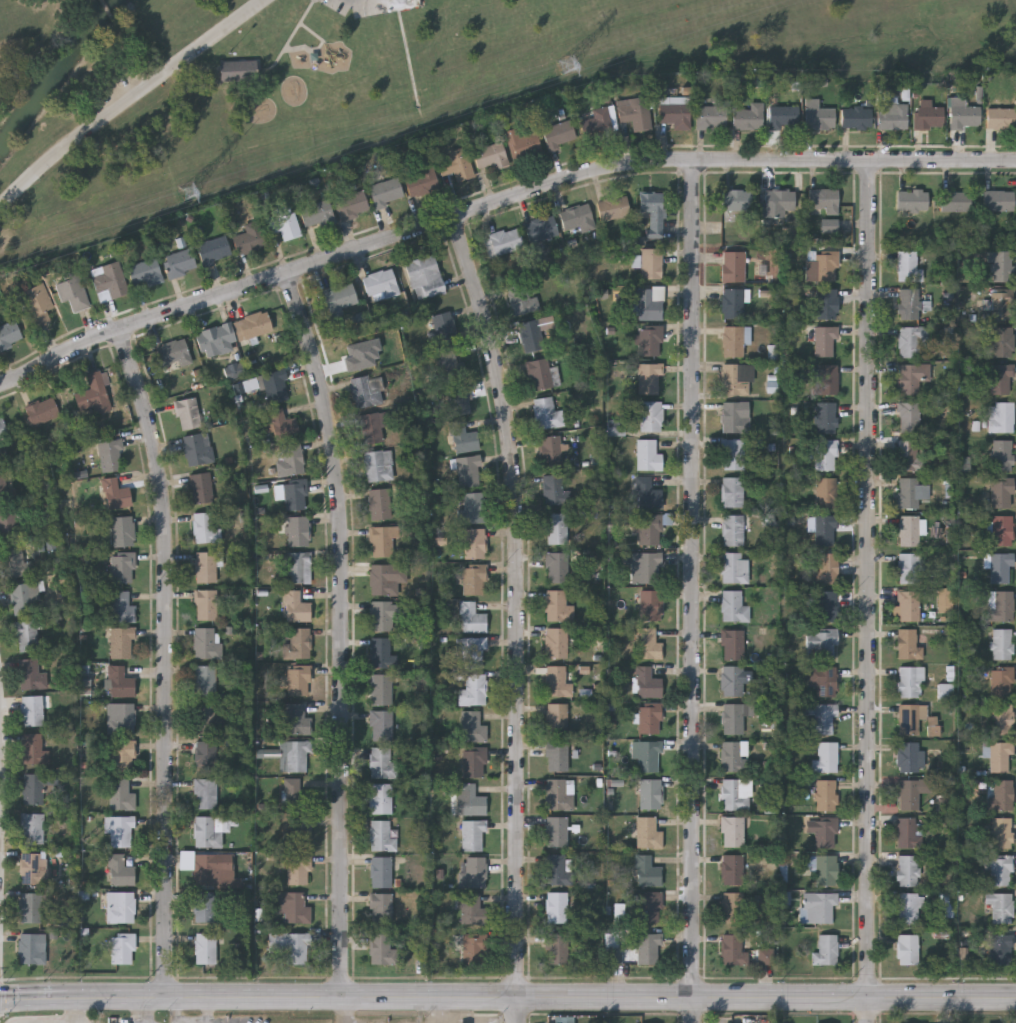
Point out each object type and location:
road: (358, 2)
parking lot: (371, 6)
road: (109, 14)
power tower: (570, 63)
building: (235, 73)
park: (234, 81)
park: (365, 81)
road: (129, 97)
building: (635, 112)
building: (674, 114)
building: (818, 115)
building: (964, 115)
building: (748, 116)
building: (781, 116)
building: (893, 116)
building: (711, 117)
building: (856, 117)
building: (929, 117)
building: (1001, 119)
building: (599, 122)
building: (558, 134)
building: (521, 144)
building: (490, 156)
building: (457, 169)
building: (421, 181)
power tower: (193, 192)
building: (386, 192)
building: (737, 200)
building: (779, 200)
building: (913, 200)
building: (955, 200)
building: (999, 200)
building: (823, 201)
building: (351, 204)
road: (495, 206)
building: (614, 208)
building: (653, 211)
building: (317, 214)
building: (578, 218)
building: (283, 225)
building: (542, 228)
building: (249, 238)
building: (505, 241)
building: (213, 250)
building: (179, 263)
building: (651, 264)
building: (822, 265)
building: (908, 265)
building: (1001, 265)
building: (734, 266)
building: (145, 274)
building: (426, 277)
building: (108, 281)
building: (381, 284)
building: (72, 291)
building: (339, 298)
building: (522, 299)
building: (649, 303)
building: (732, 303)
building: (827, 304)
building: (908, 304)
building: (37, 305)
building: (1003, 305)
building: (253, 325)
building: (443, 329)
building: (9, 334)
building: (530, 336)
building: (216, 340)
building: (650, 341)
building: (825, 341)
building: (1003, 341)
building: (734, 342)
building: (911, 342)
building: (173, 352)
building: (357, 354)
building: (450, 366)
building: (541, 373)
building: (648, 378)
building: (738, 379)
building: (828, 379)
building: (910, 379)
building: (1002, 379)
building: (274, 387)
building: (93, 391)
building: (366, 391)
building: (460, 400)
building: (43, 411)
building: (188, 413)
building: (547, 413)
building: (648, 414)
building: (734, 417)
building: (826, 417)
building: (909, 417)
building: (1001, 417)
building: (281, 424)
building: (372, 427)
building: (3, 429)
building: (463, 438)
building: (197, 449)
building: (551, 451)
building: (110, 454)
building: (734, 454)
building: (648, 455)
building: (826, 455)
building: (910, 455)
building: (1001, 455)
building: (290, 459)
building: (378, 465)
building: (468, 471)
building: (202, 488)
building: (555, 490)
building: (732, 492)
building: (827, 492)
building: (912, 492)
building: (1002, 492)
building: (7, 493)
building: (647, 493)
building: (292, 494)
building: (115, 495)
building: (380, 504)
building: (472, 508)
building: (8, 523)
building: (206, 527)
building: (557, 528)
building: (651, 529)
building: (733, 529)
building: (825, 530)
building: (1003, 530)
building: (122, 531)
building: (298, 531)
building: (909, 531)
building: (383, 541)
building: (474, 543)
building: (16, 562)
building: (206, 566)
building: (122, 567)
building: (299, 567)
building: (557, 567)
building: (999, 567)
building: (650, 568)
building: (826, 568)
building: (911, 568)
building: (387, 578)
building: (474, 579)
road: (694, 591)
road: (870, 592)
building: (23, 598)
building: (205, 604)
building: (651, 605)
building: (909, 605)
building: (1001, 605)
building: (120, 606)
building: (558, 606)
building: (734, 606)
building: (825, 606)
building: (296, 607)
building: (383, 614)
road: (523, 617)
building: (472, 618)
road: (343, 627)
building: (27, 635)
building: (121, 642)
building: (207, 642)
building: (556, 642)
building: (298, 643)
building: (648, 643)
building: (822, 643)
building: (908, 644)
building: (1001, 644)
building: (733, 645)
building: (381, 652)
building: (471, 652)
road: (164, 660)
building: (29, 673)
building: (205, 680)
building: (298, 680)
building: (732, 680)
building: (824, 680)
building: (120, 681)
building: (557, 681)
building: (911, 681)
building: (1002, 681)
building: (647, 682)
building: (381, 688)
building: (473, 690)
building: (32, 710)
building: (735, 716)
building: (204, 717)
building: (121, 718)
building: (557, 718)
building: (824, 718)
building: (297, 719)
building: (651, 719)
building: (912, 719)
building: (1003, 719)
building: (381, 725)
building: (473, 726)
building: (33, 747)
building: (123, 755)
building: (558, 755)
building: (649, 755)
building: (205, 756)
building: (297, 756)
building: (734, 756)
building: (911, 756)
building: (1000, 757)
building: (827, 758)
building: (474, 762)
building: (382, 763)
building: (33, 788)
building: (205, 793)
building: (559, 794)
building: (651, 794)
building: (909, 794)
building: (121, 795)
building: (294, 795)
building: (734, 795)
building: (826, 795)
building: (1002, 795)
building: (381, 798)
building: (472, 801)
building: (32, 828)
building: (119, 831)
building: (208, 831)
building: (732, 831)
building: (298, 832)
building: (556, 832)
building: (826, 832)
building: (648, 833)
building: (908, 833)
building: (1001, 833)
building: (472, 835)
building: (381, 836)
building: (33, 868)
building: (206, 868)
building: (298, 869)
building: (732, 869)
building: (1000, 869)
building: (558, 870)
building: (827, 870)
building: (908, 870)
building: (121, 872)
building: (381, 872)
building: (473, 872)
building: (648, 872)
building: (206, 906)
building: (121, 907)
building: (293, 907)
building: (557, 907)
building: (649, 907)
building: (733, 907)
building: (1000, 907)
building: (32, 908)
building: (382, 908)
building: (818, 908)
building: (910, 908)
building: (472, 910)
building: (290, 946)
building: (32, 948)
building: (122, 948)
building: (205, 948)
building: (382, 948)
building: (474, 948)
building: (649, 948)
building: (557, 949)
building: (732, 949)
building: (1000, 949)
building: (826, 950)
building: (908, 950)
road: (253, 996)
road: (679, 996)
road: (82, 998)
road: (147, 1010)
road: (209, 1010)
road: (78, 1011)

